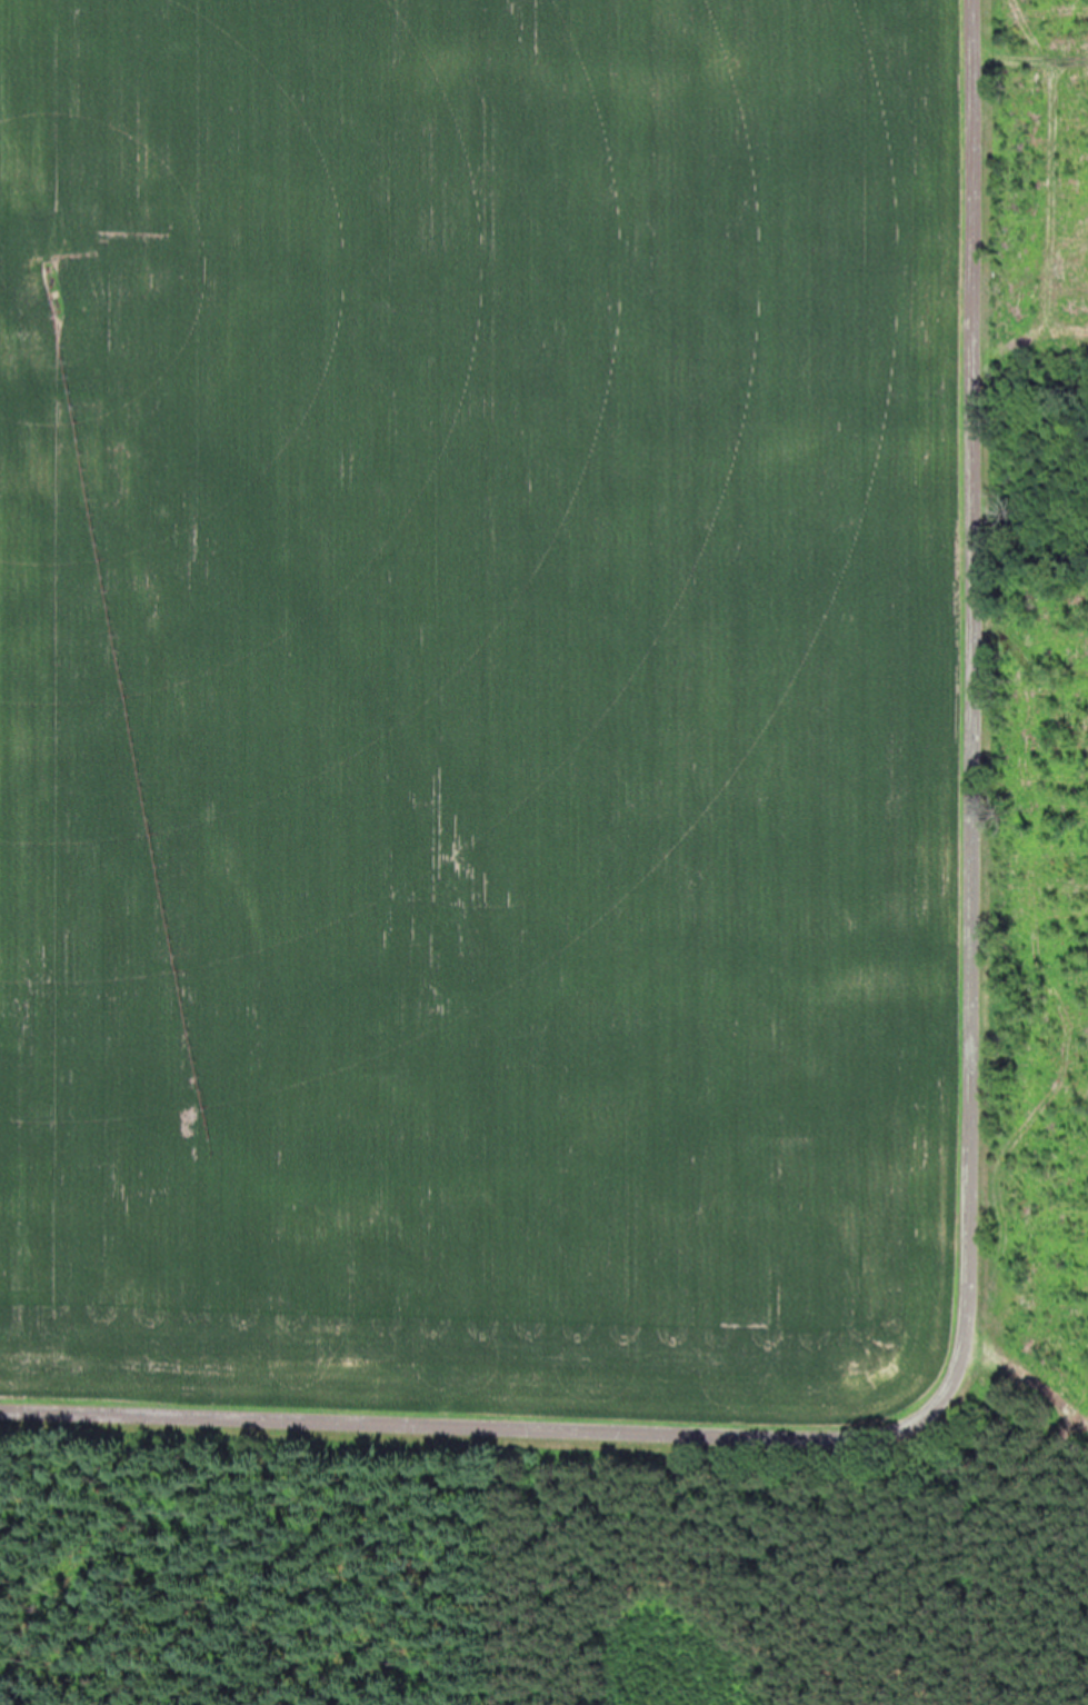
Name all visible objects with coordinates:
road: (975, 1207)

